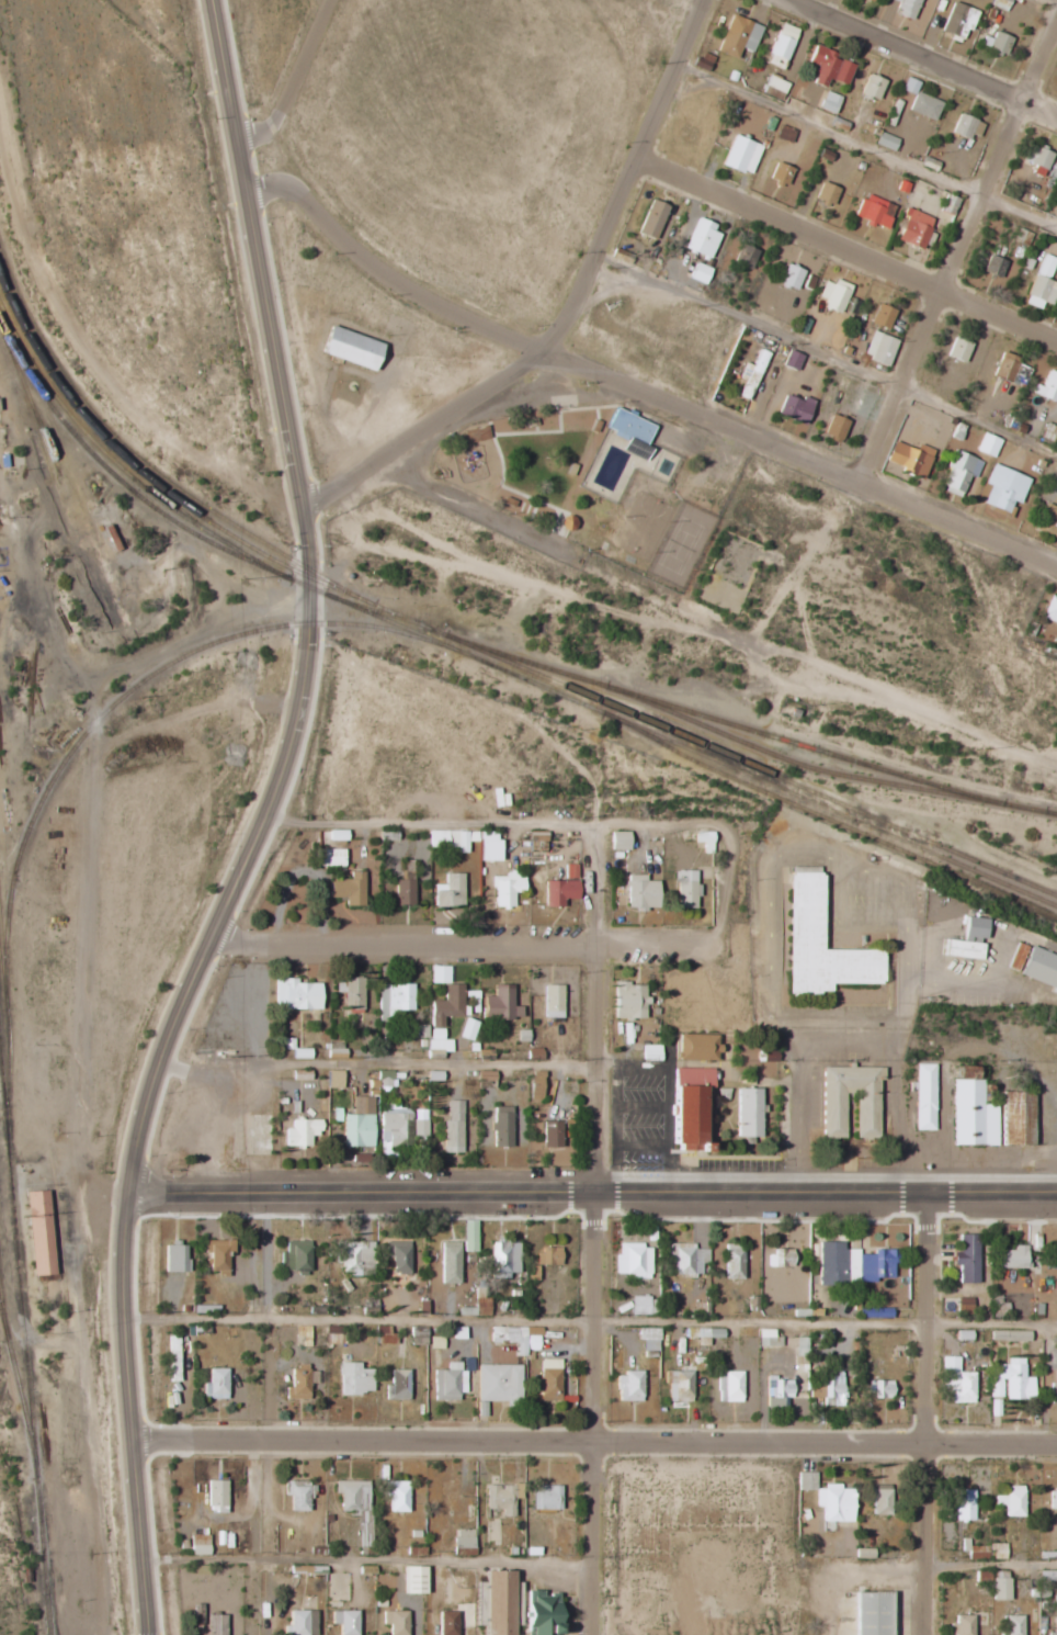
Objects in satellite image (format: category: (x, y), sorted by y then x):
building: (999, 4)
building: (906, 8)
building: (958, 21)
building: (737, 35)
building: (996, 43)
building: (781, 45)
road: (911, 59)
building: (820, 65)
building: (843, 71)
road: (298, 81)
building: (909, 84)
building: (774, 87)
building: (872, 87)
building: (829, 101)
building: (923, 105)
building: (967, 125)
building: (785, 133)
building: (885, 140)
building: (740, 154)
building: (1037, 156)
building: (780, 172)
building: (826, 192)
building: (874, 210)
building: (651, 218)
building: (913, 228)
building: (701, 238)
road: (844, 246)
building: (746, 257)
road: (961, 262)
building: (993, 266)
building: (1046, 266)
building: (698, 272)
building: (789, 277)
building: (1041, 291)
building: (833, 294)
road: (567, 306)
building: (880, 316)
building: (349, 347)
building: (878, 348)
building: (957, 349)
building: (792, 360)
building: (1010, 369)
building: (749, 374)
building: (1046, 386)
road: (623, 391)
building: (794, 408)
building: (834, 426)
building: (629, 432)
building: (987, 444)
building: (909, 458)
railway: (111, 470)
building: (959, 472)
railway: (146, 477)
railway: (62, 480)
building: (1003, 487)
railway: (65, 512)
railway: (91, 521)
building: (567, 522)
building: (1048, 522)
building: (1049, 609)
railway: (378, 611)
railway: (411, 619)
railway: (424, 634)
railway: (100, 719)
railway: (702, 731)
road: (265, 823)
road: (373, 823)
railway: (841, 824)
railway: (5, 825)
building: (452, 838)
building: (618, 841)
building: (704, 841)
building: (487, 846)
building: (328, 857)
building: (570, 871)
building: (505, 888)
building: (685, 888)
building: (348, 889)
building: (448, 891)
building: (404, 892)
building: (558, 892)
building: (640, 892)
parking lot: (857, 895)
building: (974, 928)
building: (821, 941)
road: (774, 943)
building: (962, 948)
road: (458, 954)
building: (1016, 957)
building: (1041, 968)
building: (439, 974)
building: (350, 992)
building: (294, 994)
building: (630, 999)
building: (552, 1001)
building: (500, 1004)
parking lot: (837, 1008)
road: (907, 1008)
road: (598, 1011)
building: (444, 1015)
building: (466, 1029)
building: (421, 1030)
road: (851, 1034)
railway: (7, 1039)
building: (700, 1046)
building: (334, 1050)
building: (652, 1050)
railway: (25, 1052)
building: (299, 1053)
building: (533, 1053)
building: (485, 1075)
building: (333, 1079)
building: (384, 1079)
building: (534, 1085)
road: (670, 1096)
building: (923, 1097)
parking lot: (816, 1101)
building: (834, 1103)
parking lot: (884, 1103)
road: (644, 1105)
building: (691, 1105)
building: (751, 1112)
building: (970, 1112)
building: (1016, 1118)
building: (359, 1124)
building: (421, 1125)
building: (396, 1126)
building: (501, 1127)
road: (617, 1127)
building: (453, 1128)
building: (300, 1132)
building: (550, 1134)
parking lot: (663, 1134)
road: (644, 1142)
road: (592, 1196)
building: (37, 1236)
building: (468, 1236)
building: (296, 1255)
building: (217, 1256)
building: (397, 1256)
building: (547, 1256)
building: (686, 1258)
building: (966, 1258)
building: (1012, 1258)
building: (174, 1259)
building: (778, 1259)
building: (502, 1260)
building: (634, 1260)
building: (448, 1263)
building: (732, 1263)
building: (852, 1265)
building: (532, 1273)
railway: (2, 1290)
building: (964, 1305)
building: (639, 1306)
building: (998, 1307)
building: (477, 1308)
building: (705, 1332)
building: (457, 1333)
building: (332, 1334)
building: (383, 1334)
building: (417, 1334)
building: (302, 1335)
building: (1009, 1335)
building: (515, 1338)
building: (768, 1338)
railway: (25, 1339)
building: (648, 1339)
building: (434, 1343)
building: (800, 1346)
building: (172, 1358)
building: (353, 1379)
building: (549, 1379)
building: (1010, 1380)
railway: (19, 1382)
building: (300, 1382)
building: (448, 1382)
building: (956, 1382)
building: (215, 1384)
building: (498, 1384)
building: (397, 1385)
building: (679, 1386)
building: (728, 1386)
building: (628, 1387)
building: (879, 1389)
building: (832, 1390)
building: (776, 1391)
building: (1053, 1391)
road: (584, 1416)
road: (920, 1416)
road: (593, 1440)
building: (806, 1480)
building: (297, 1493)
building: (215, 1495)
building: (396, 1495)
building: (501, 1497)
building: (544, 1497)
building: (879, 1498)
building: (1053, 1498)
building: (1011, 1501)
building: (833, 1502)
building: (963, 1504)
building: (355, 1507)
building: (463, 1543)
building: (182, 1544)
building: (197, 1545)
building: (316, 1551)
building: (364, 1551)
building: (416, 1551)
building: (510, 1551)
building: (531, 1551)
building: (986, 1551)
road: (362, 1560)
building: (306, 1569)
building: (197, 1570)
building: (982, 1575)
building: (412, 1579)
building: (999, 1586)
building: (498, 1602)
building: (380, 1603)
building: (539, 1612)
building: (871, 1613)
building: (344, 1621)
building: (394, 1621)
building: (299, 1623)
building: (445, 1623)
building: (214, 1624)
building: (963, 1624)
building: (1012, 1625)
building: (1054, 1626)

